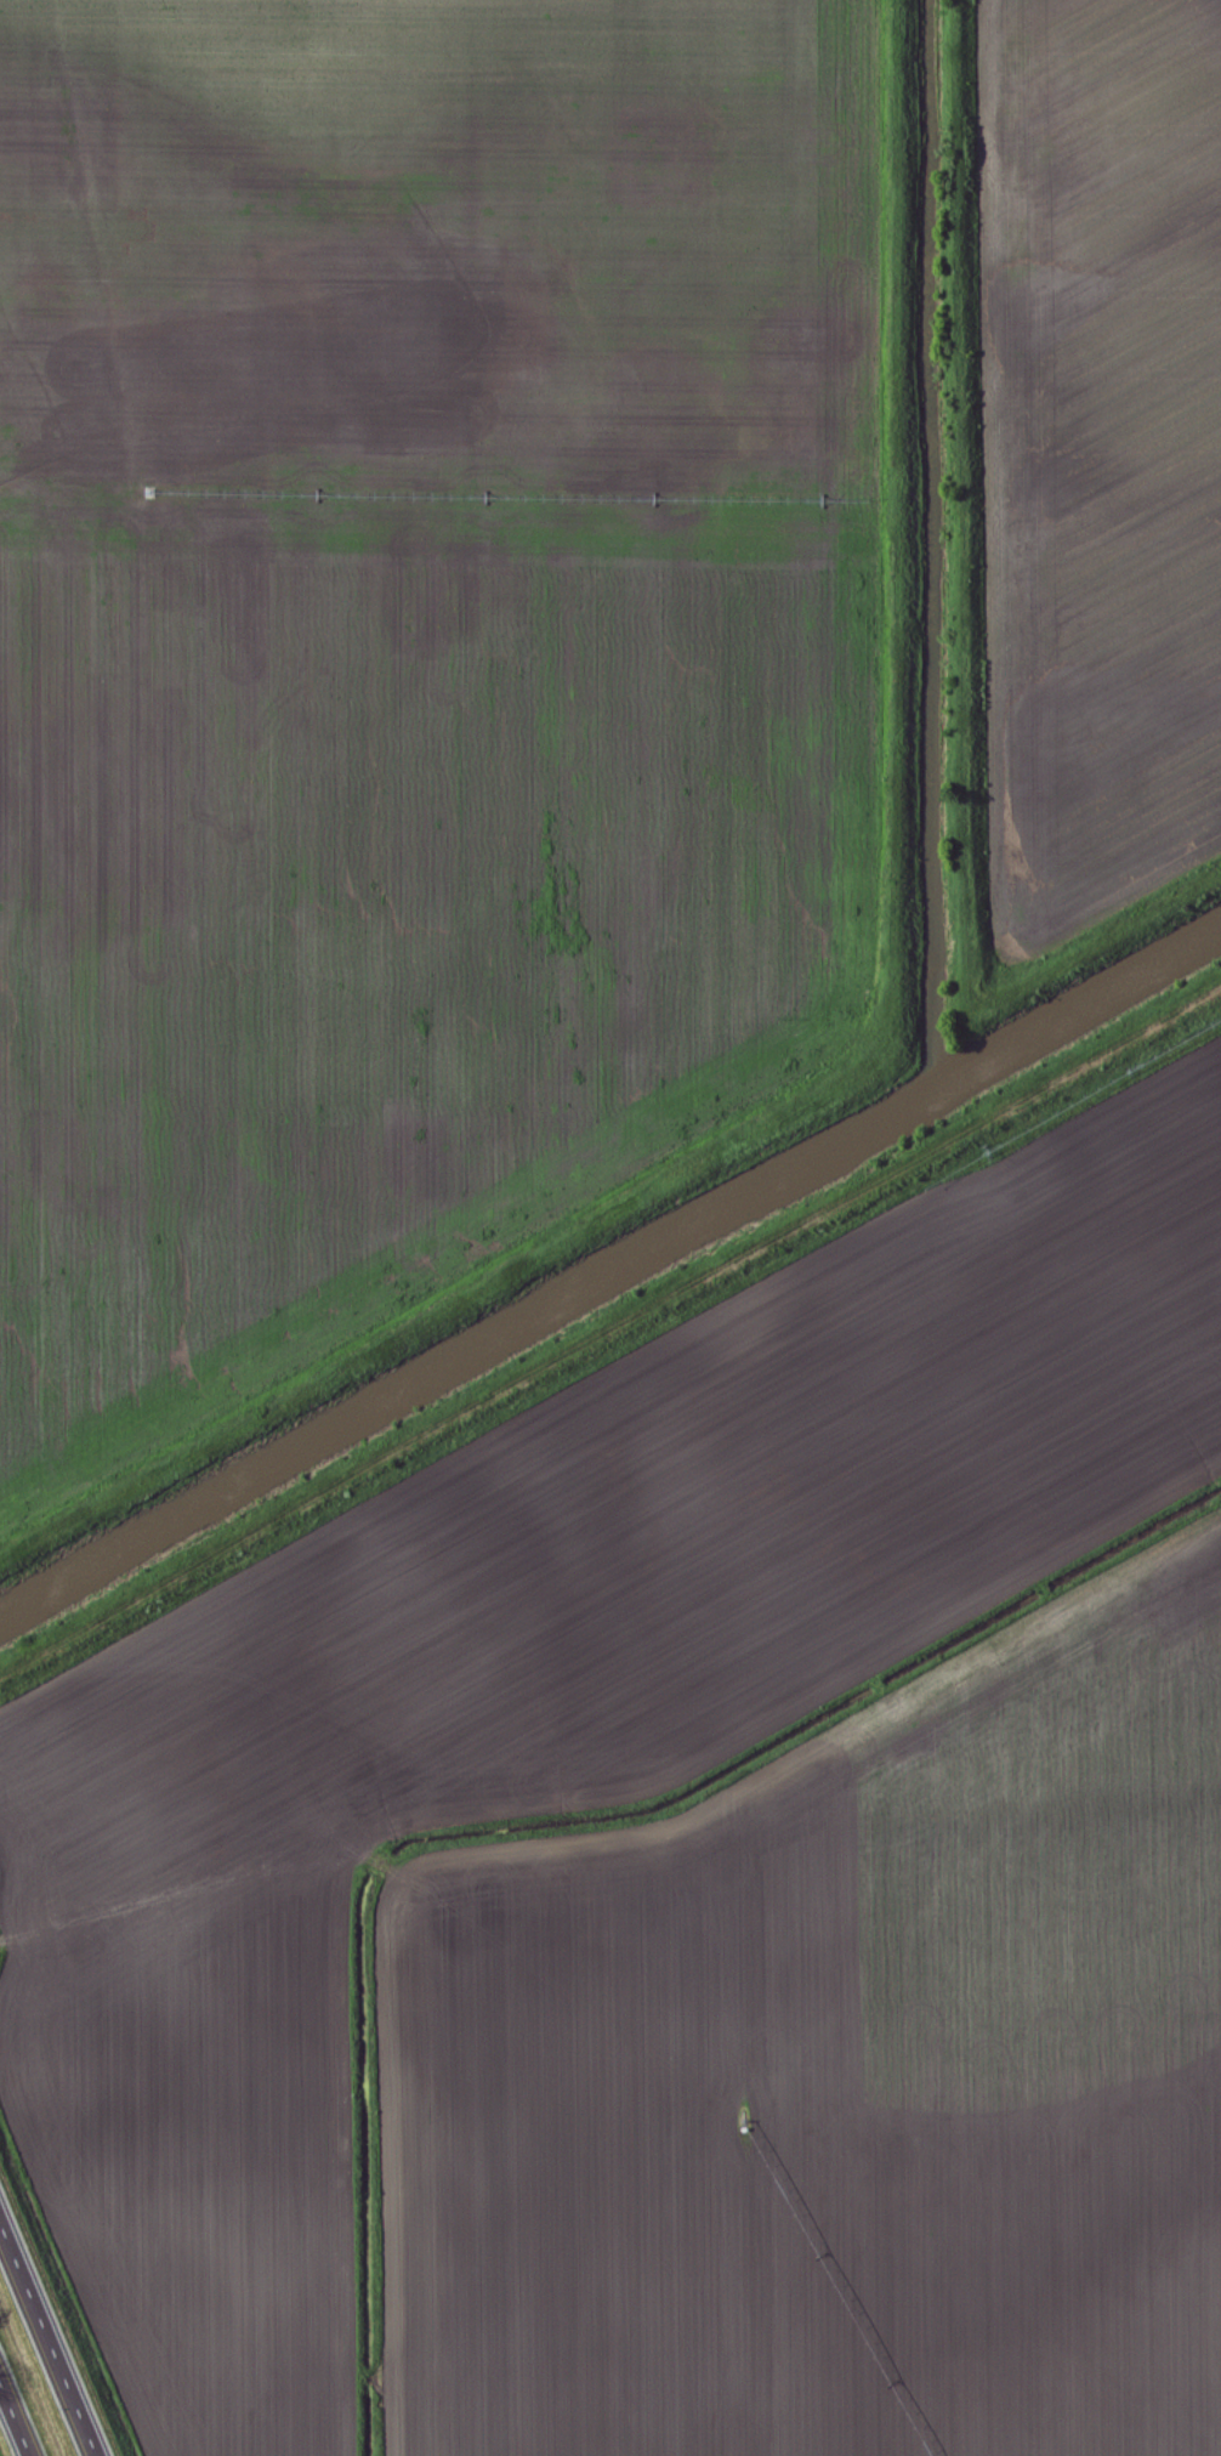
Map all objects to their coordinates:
road: (49, 2337)
road: (16, 2417)

